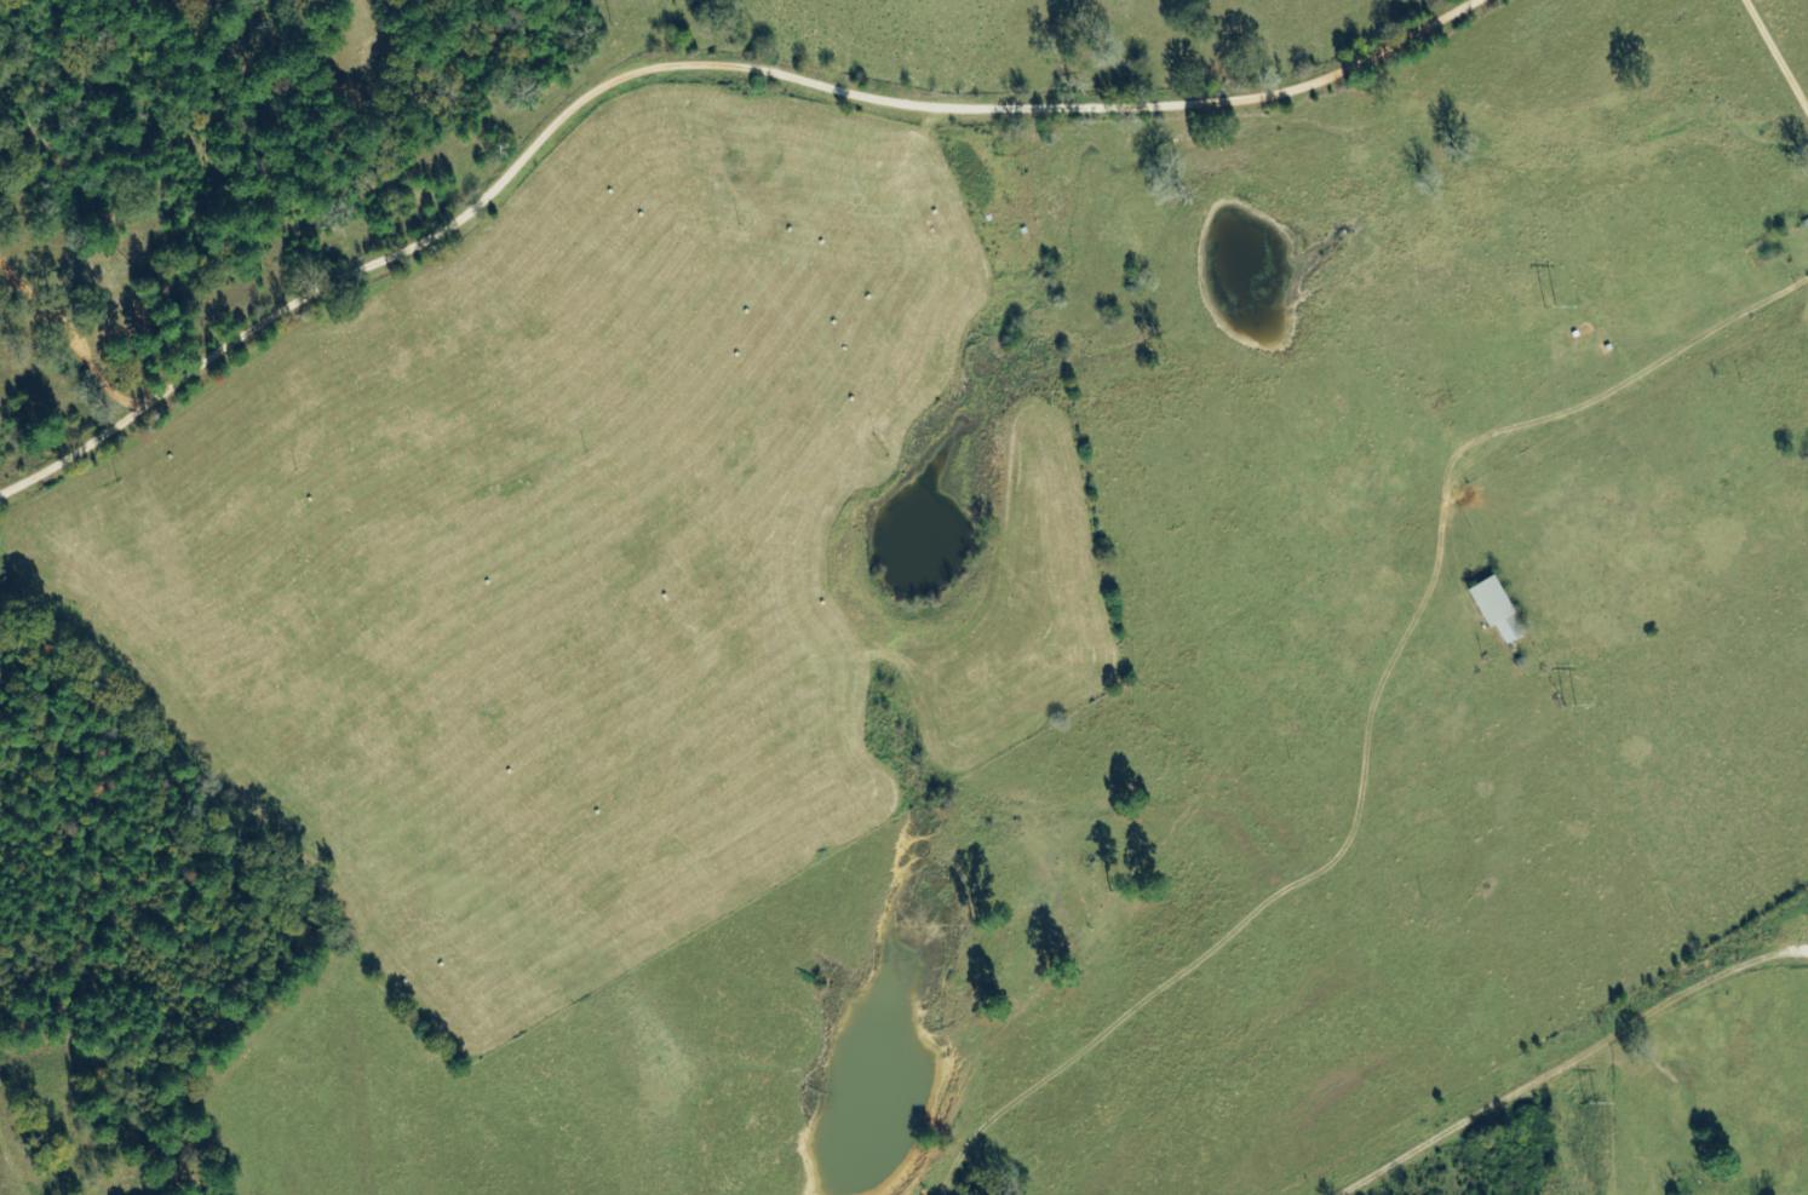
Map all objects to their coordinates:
road: (685, 68)
power tower: (1549, 304)
building: (1492, 609)
power tower: (1569, 706)
power tower: (1589, 1105)

